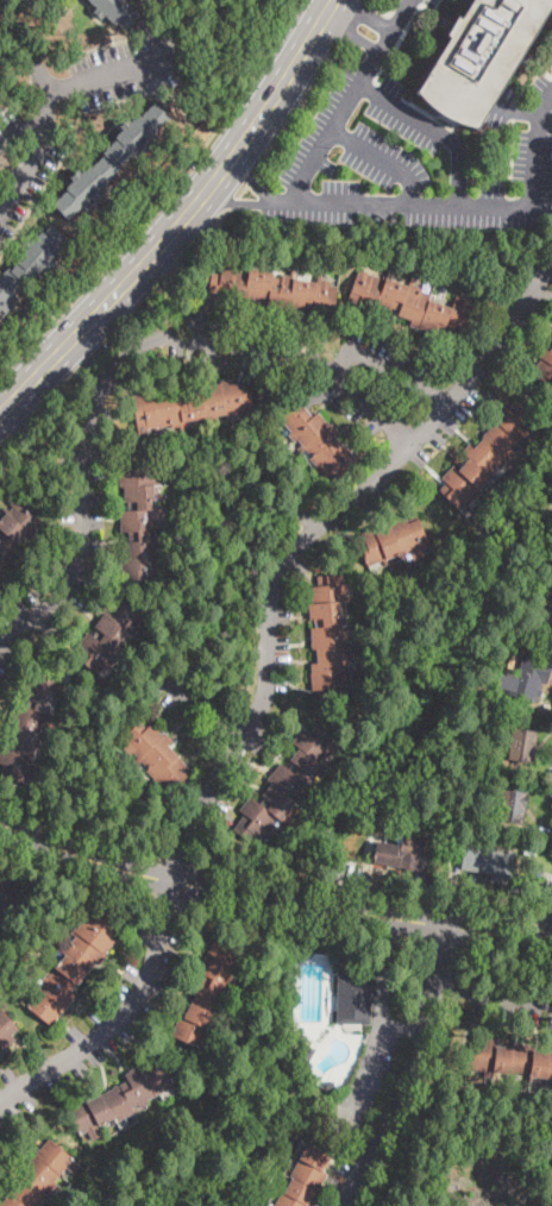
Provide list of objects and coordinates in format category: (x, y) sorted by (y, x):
parking lot: (428, 2)
parking lot: (408, 4)
road: (362, 10)
building: (117, 11)
road: (382, 11)
road: (352, 21)
road: (349, 32)
parking lot: (378, 45)
building: (479, 57)
parking lot: (551, 58)
road: (114, 69)
road: (36, 75)
road: (346, 100)
road: (297, 108)
road: (431, 128)
road: (34, 153)
road: (378, 158)
building: (112, 161)
parking lot: (406, 162)
road: (250, 176)
road: (252, 178)
road: (243, 190)
road: (163, 196)
road: (280, 200)
road: (232, 201)
road: (233, 202)
road: (465, 202)
road: (182, 218)
building: (30, 265)
building: (275, 289)
building: (412, 303)
road: (117, 333)
road: (123, 362)
road: (388, 364)
building: (545, 366)
building: (192, 404)
building: (319, 441)
building: (488, 456)
building: (139, 525)
building: (18, 527)
building: (393, 540)
road: (295, 546)
building: (0, 580)
building: (542, 613)
building: (107, 634)
building: (330, 637)
building: (529, 678)
road: (202, 706)
building: (31, 722)
building: (522, 746)
building: (156, 755)
building: (286, 784)
building: (512, 805)
road: (81, 833)
building: (401, 854)
road: (181, 859)
building: (487, 860)
road: (76, 878)
road: (369, 891)
road: (271, 898)
road: (170, 902)
road: (547, 918)
road: (302, 925)
road: (440, 947)
road: (504, 957)
building: (73, 967)
building: (209, 992)
road: (491, 993)
building: (355, 995)
road: (121, 1020)
road: (382, 1025)
road: (402, 1030)
building: (6, 1032)
building: (295, 1039)
building: (308, 1055)
building: (509, 1059)
road: (415, 1072)
road: (428, 1083)
building: (330, 1086)
building: (120, 1098)
road: (395, 1160)
building: (39, 1175)
building: (305, 1177)

